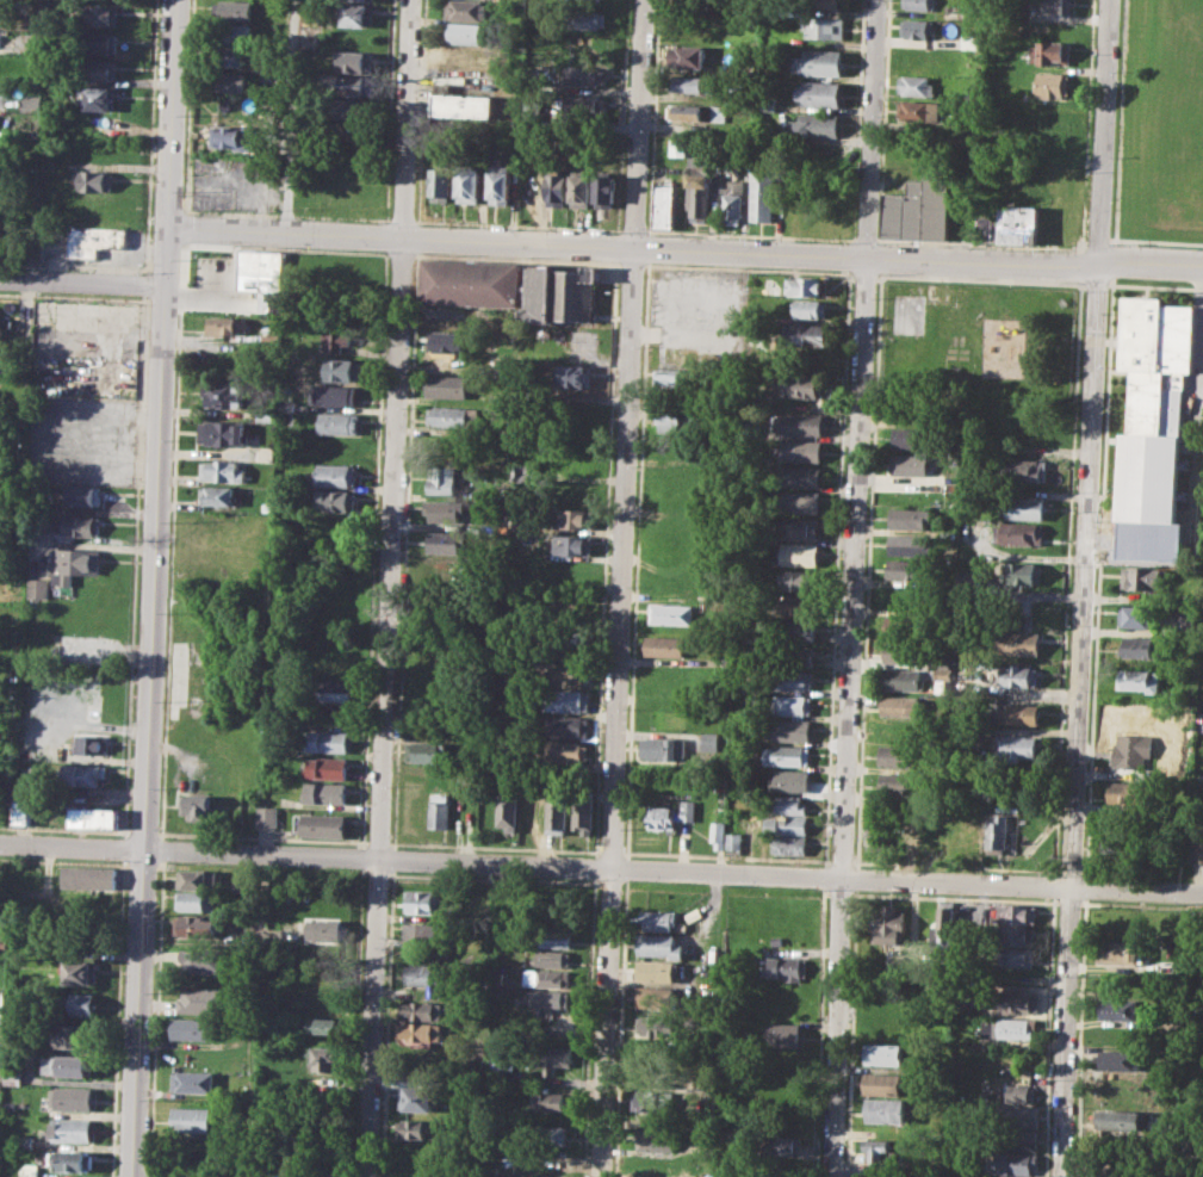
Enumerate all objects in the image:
building: (361, 0)
building: (820, 4)
building: (917, 4)
building: (1053, 6)
building: (466, 10)
building: (235, 11)
building: (100, 13)
building: (356, 14)
building: (311, 17)
building: (588, 18)
building: (824, 26)
building: (914, 27)
building: (1052, 29)
building: (464, 32)
building: (231, 33)
building: (1, 36)
building: (969, 42)
building: (99, 43)
building: (587, 48)
building: (1052, 54)
building: (231, 56)
building: (687, 56)
building: (465, 57)
building: (914, 61)
building: (356, 62)
building: (819, 62)
building: (98, 69)
building: (585, 75)
building: (229, 80)
building: (684, 83)
building: (354, 85)
building: (1053, 85)
building: (914, 86)
building: (4, 89)
building: (818, 94)
building: (97, 98)
building: (31, 101)
building: (765, 104)
building: (583, 105)
building: (464, 106)
building: (353, 109)
building: (917, 110)
building: (696, 112)
road: (290, 116)
road: (1117, 119)
building: (814, 125)
building: (234, 136)
building: (1048, 145)
building: (677, 147)
building: (94, 180)
building: (441, 182)
parking lot: (237, 184)
building: (469, 184)
building: (498, 184)
building: (556, 186)
building: (581, 191)
building: (604, 191)
building: (699, 196)
building: (762, 196)
building: (731, 199)
building: (936, 203)
building: (664, 204)
building: (905, 211)
road: (650, 217)
building: (1019, 223)
building: (1061, 224)
road: (1080, 225)
building: (986, 229)
road: (1083, 237)
road: (1097, 237)
building: (94, 239)
road: (863, 239)
road: (1110, 239)
road: (1155, 240)
road: (686, 248)
road: (1080, 249)
road: (1111, 260)
road: (1079, 265)
building: (213, 267)
building: (263, 277)
road: (82, 280)
building: (469, 281)
building: (807, 286)
building: (562, 293)
building: (811, 309)
park: (909, 314)
building: (227, 326)
building: (806, 334)
building: (339, 340)
building: (448, 341)
building: (504, 366)
building: (342, 368)
building: (575, 377)
building: (677, 377)
building: (448, 385)
building: (802, 385)
building: (224, 394)
building: (336, 395)
building: (1153, 404)
building: (914, 411)
building: (266, 413)
building: (451, 416)
building: (677, 417)
building: (339, 422)
building: (1031, 422)
building: (798, 423)
building: (223, 433)
building: (913, 436)
building: (802, 450)
building: (911, 465)
building: (1027, 470)
building: (223, 471)
building: (335, 475)
building: (801, 477)
building: (440, 479)
building: (576, 493)
building: (82, 495)
building: (216, 495)
building: (334, 500)
building: (804, 502)
building: (1027, 507)
building: (445, 512)
building: (575, 518)
building: (911, 518)
building: (80, 525)
building: (339, 526)
building: (801, 528)
building: (1023, 533)
building: (445, 541)
building: (1145, 541)
building: (573, 545)
building: (910, 545)
building: (799, 553)
building: (73, 564)
building: (909, 570)
building: (1027, 572)
road: (1098, 576)
road: (1067, 577)
building: (1142, 577)
building: (796, 581)
building: (35, 588)
road: (153, 588)
road: (389, 588)
road: (621, 588)
road: (852, 588)
road: (1084, 588)
building: (907, 599)
building: (795, 606)
building: (672, 613)
building: (1136, 617)
building: (907, 625)
building: (794, 630)
building: (582, 639)
building: (1019, 643)
building: (666, 646)
building: (1140, 648)
building: (905, 651)
building: (793, 653)
building: (1022, 676)
building: (792, 679)
building: (905, 680)
building: (1139, 680)
building: (331, 689)
building: (568, 700)
building: (511, 701)
building: (792, 705)
building: (903, 706)
building: (1019, 714)
building: (566, 726)
building: (792, 730)
building: (901, 731)
building: (737, 737)
building: (325, 741)
building: (711, 741)
building: (89, 744)
building: (1019, 747)
building: (664, 748)
building: (424, 751)
building: (565, 751)
building: (1133, 751)
building: (788, 754)
building: (901, 755)
building: (744, 762)
building: (327, 767)
building: (83, 774)
building: (792, 780)
building: (900, 781)
building: (323, 793)
building: (1127, 795)
building: (788, 805)
building: (198, 807)
building: (506, 810)
building: (438, 811)
building: (21, 812)
building: (556, 813)
building: (582, 813)
building: (671, 814)
building: (266, 816)
building: (93, 817)
building: (322, 824)
building: (787, 824)
building: (968, 831)
building: (1000, 831)
building: (909, 832)
building: (719, 834)
building: (734, 835)
building: (878, 835)
building: (1197, 843)
building: (789, 844)
road: (601, 867)
building: (91, 876)
building: (197, 879)
road: (1055, 885)
road: (1086, 887)
building: (197, 900)
building: (423, 900)
building: (979, 911)
building: (1019, 912)
building: (692, 915)
building: (657, 919)
building: (948, 922)
building: (196, 925)
building: (891, 925)
building: (324, 929)
building: (426, 930)
building: (1017, 935)
building: (553, 937)
building: (657, 946)
building: (1120, 952)
building: (1018, 956)
building: (550, 958)
building: (203, 962)
building: (783, 967)
building: (656, 971)
building: (79, 972)
building: (423, 974)
building: (546, 978)
building: (656, 997)
building: (548, 998)
building: (201, 999)
building: (1021, 1002)
building: (76, 1003)
building: (1123, 1008)
building: (423, 1010)
road: (258, 1015)
building: (324, 1024)
building: (655, 1026)
building: (193, 1027)
building: (1018, 1028)
building: (418, 1032)
building: (782, 1034)
building: (72, 1036)
road: (1049, 1036)
road: (1081, 1037)
building: (883, 1055)
building: (324, 1058)
building: (501, 1058)
building: (553, 1059)
building: (1122, 1059)
building: (66, 1065)
building: (0, 1072)
building: (193, 1082)
building: (882, 1083)
building: (1021, 1094)
building: (73, 1097)
building: (417, 1098)
building: (548, 1101)
building: (650, 1101)
building: (886, 1110)
building: (1018, 1115)
building: (191, 1119)
building: (1120, 1122)
building: (413, 1127)
building: (72, 1130)
building: (548, 1135)
building: (653, 1139)
building: (1019, 1139)
building: (25, 1140)
building: (783, 1145)
building: (881, 1151)
building: (73, 1159)
building: (1016, 1163)
building: (656, 1165)
building: (30, 1169)
building: (1108, 1172)
building: (315, 1175)
building: (540, 1176)
building: (1003, 1176)

